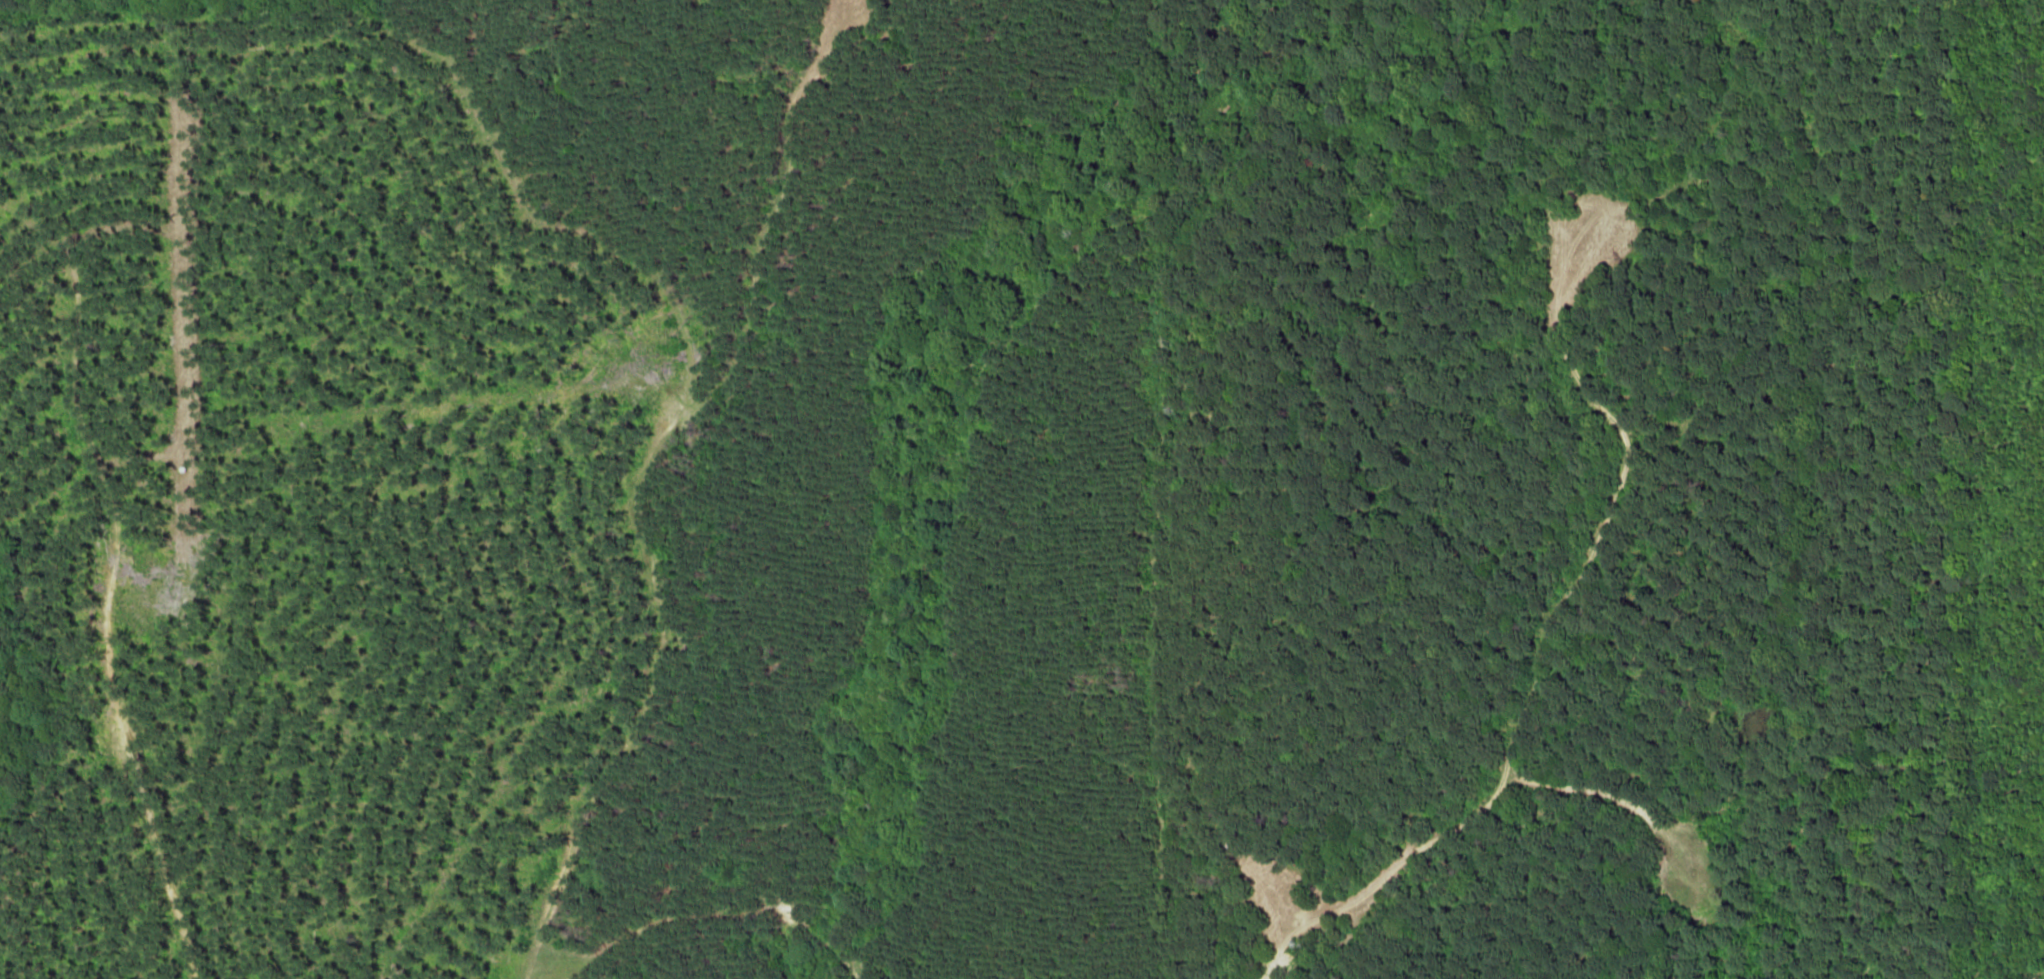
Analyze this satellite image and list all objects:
road: (1870, 633)

